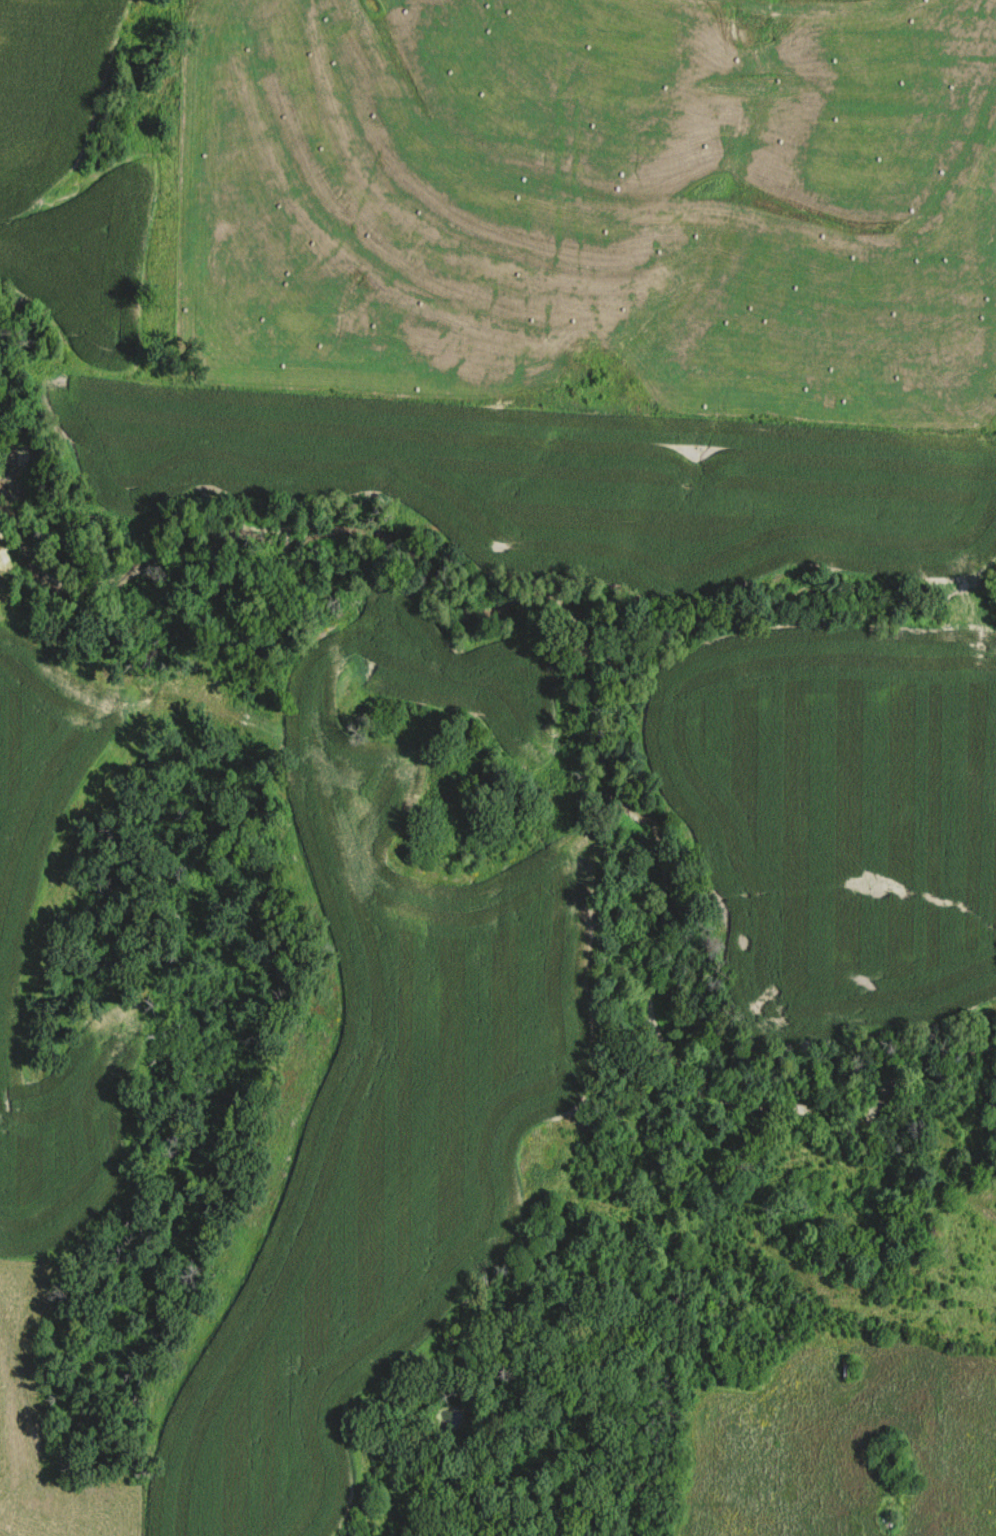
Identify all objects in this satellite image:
building: (846, 1369)

